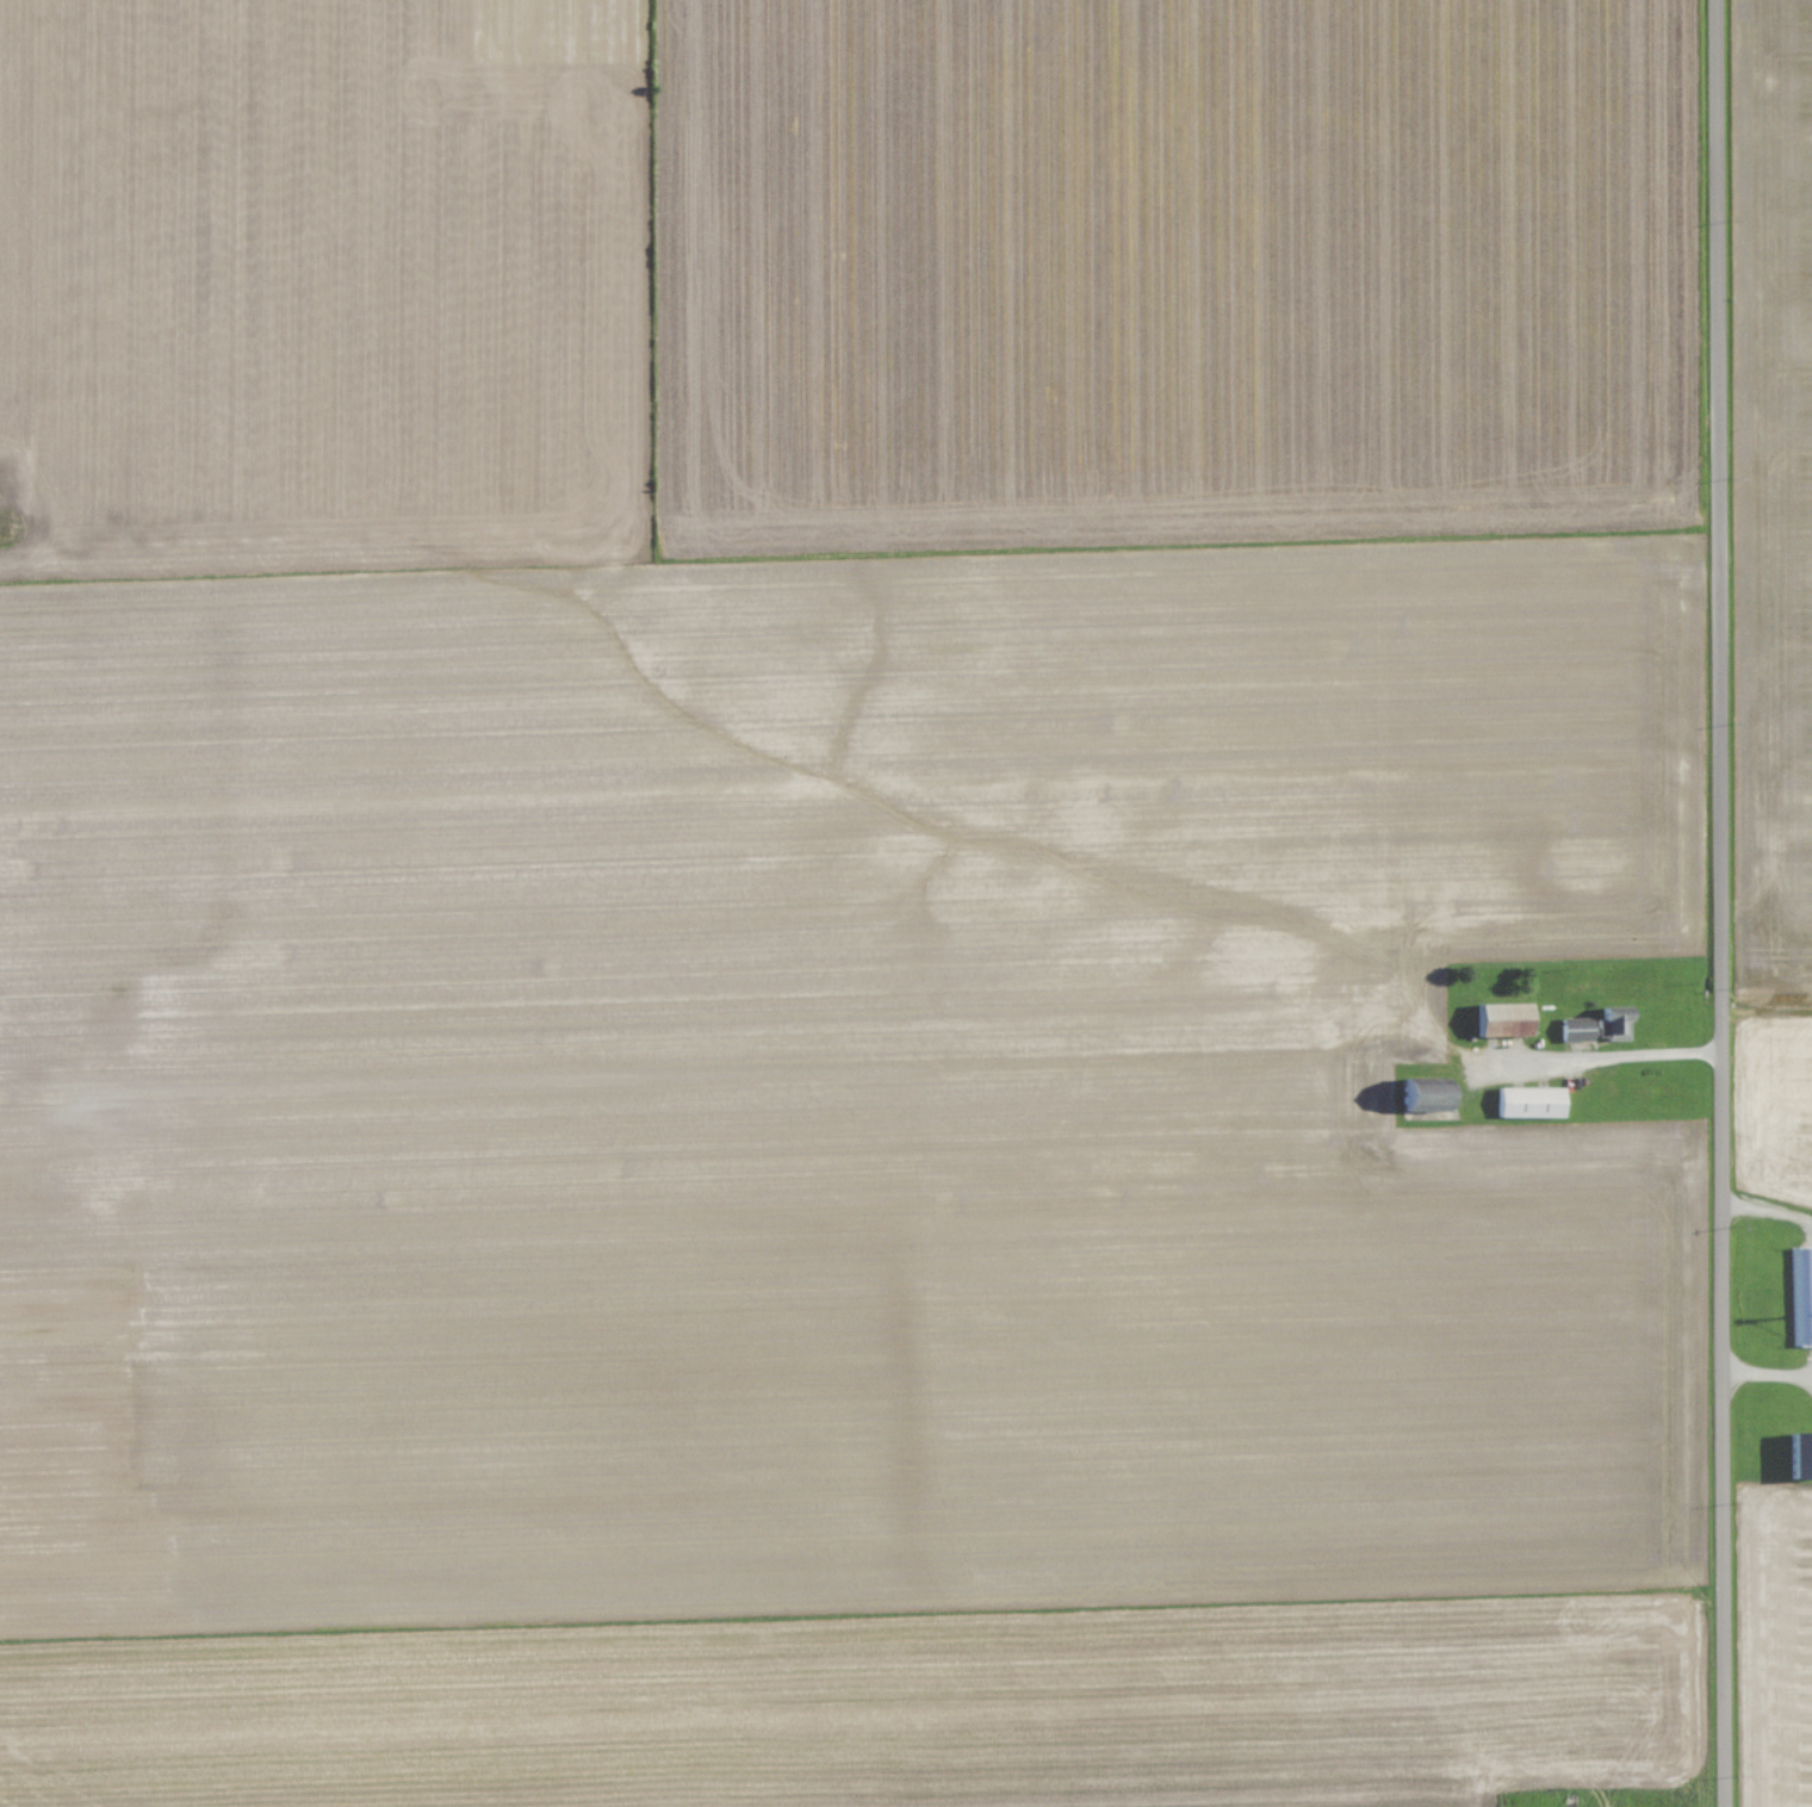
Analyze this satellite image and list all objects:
road: (1687, 903)
building: (1495, 1018)
building: (1589, 1025)
building: (1602, 1087)
building: (1413, 1093)
building: (1524, 1101)
building: (1800, 1293)
building: (1795, 1455)

